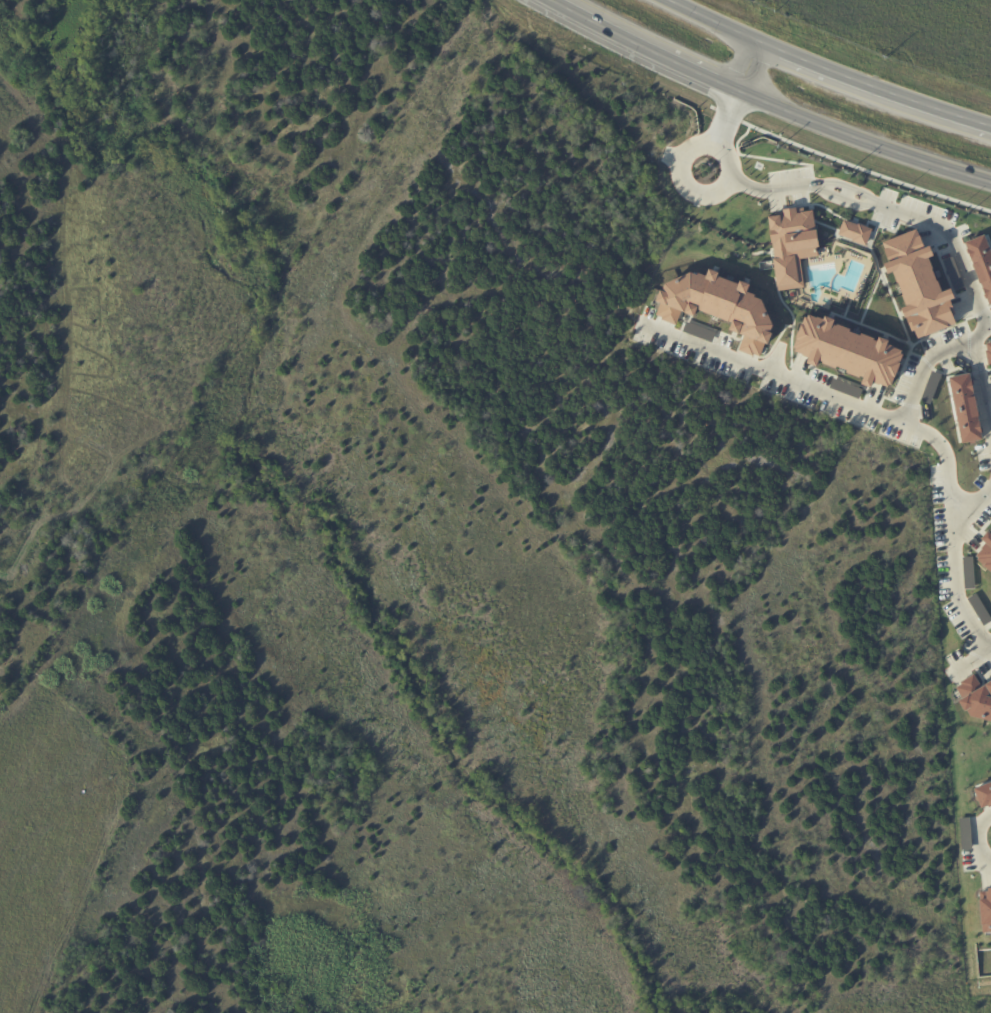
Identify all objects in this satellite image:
road: (713, 21)
road: (641, 48)
road: (748, 68)
road: (874, 86)
road: (862, 143)
road: (843, 191)
building: (854, 232)
building: (792, 244)
building: (981, 262)
building: (919, 284)
building: (717, 306)
building: (848, 350)
building: (988, 351)
road: (980, 378)
road: (844, 398)
building: (966, 408)
road: (976, 503)
road: (955, 526)
building: (985, 550)
building: (976, 698)
building: (984, 795)
road: (981, 835)
building: (986, 910)
road: (984, 982)

